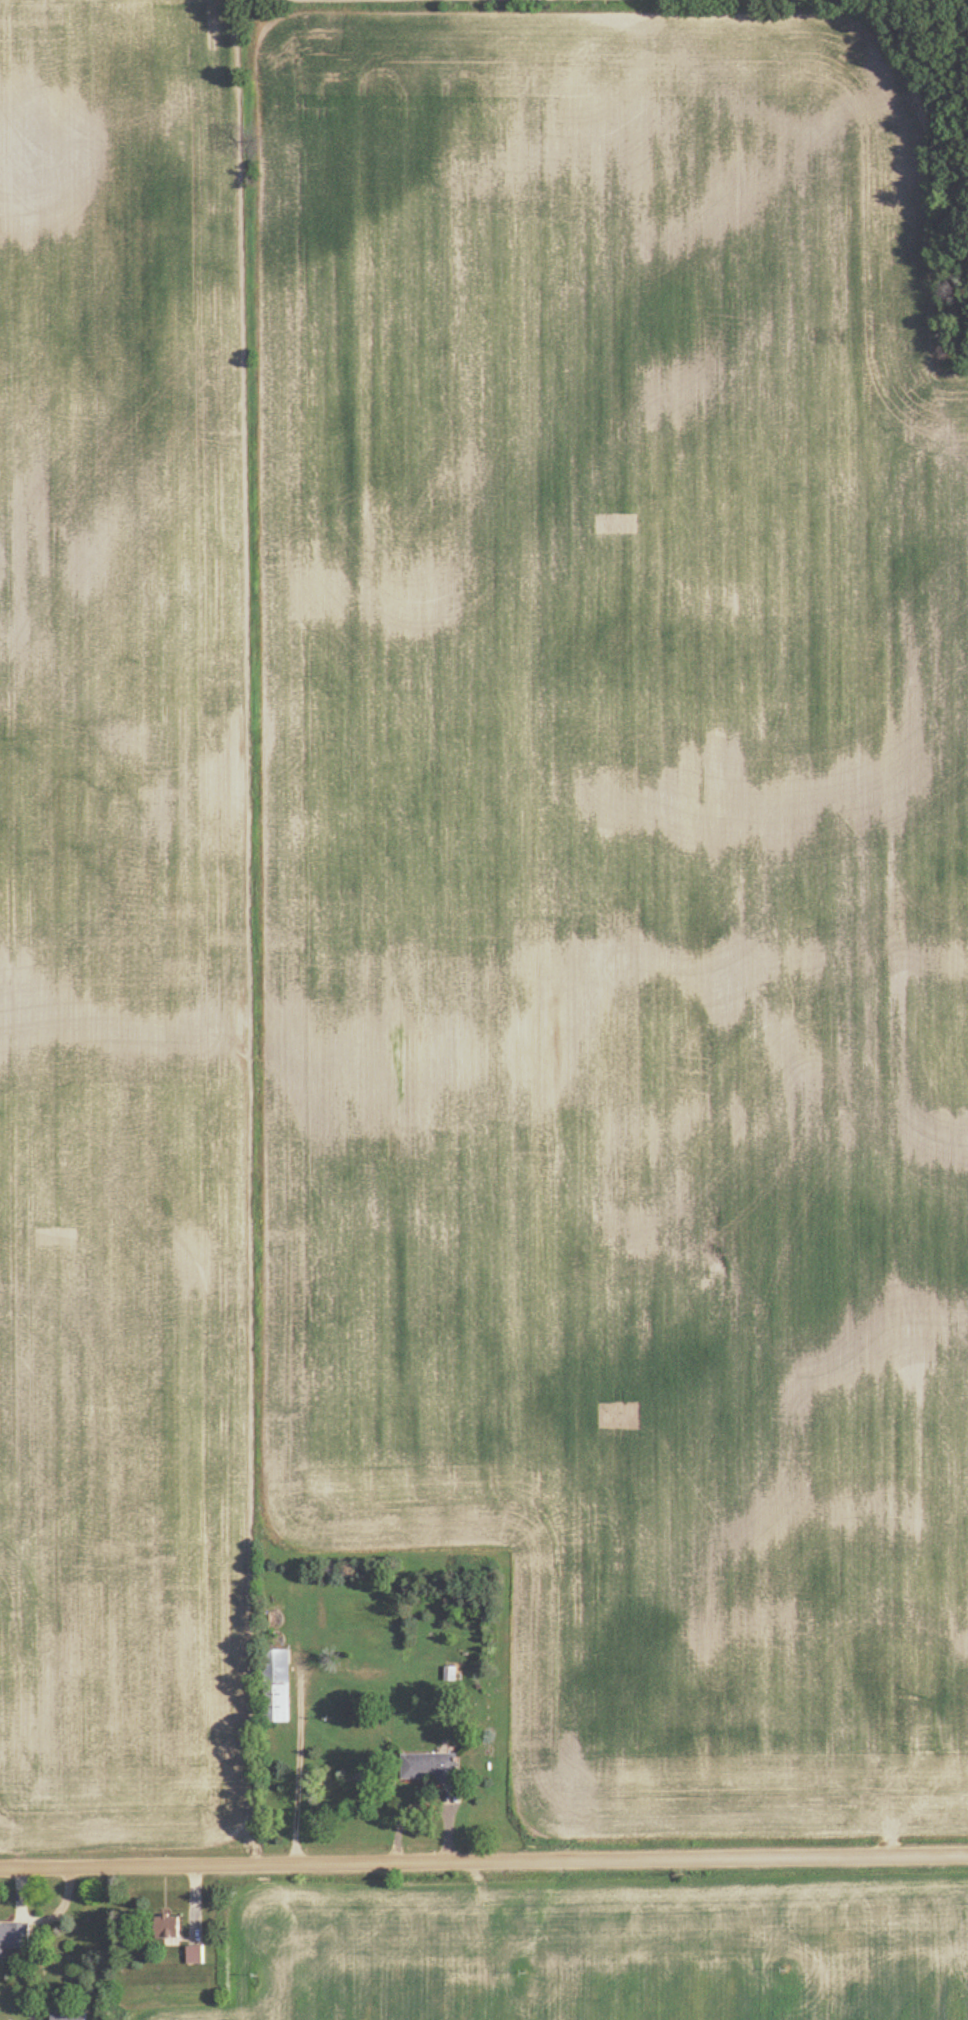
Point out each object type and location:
building: (278, 1620)
building: (280, 1681)
road: (295, 1765)
building: (431, 1768)
road: (484, 1862)
building: (167, 1927)
building: (15, 1937)
building: (71, 2016)

